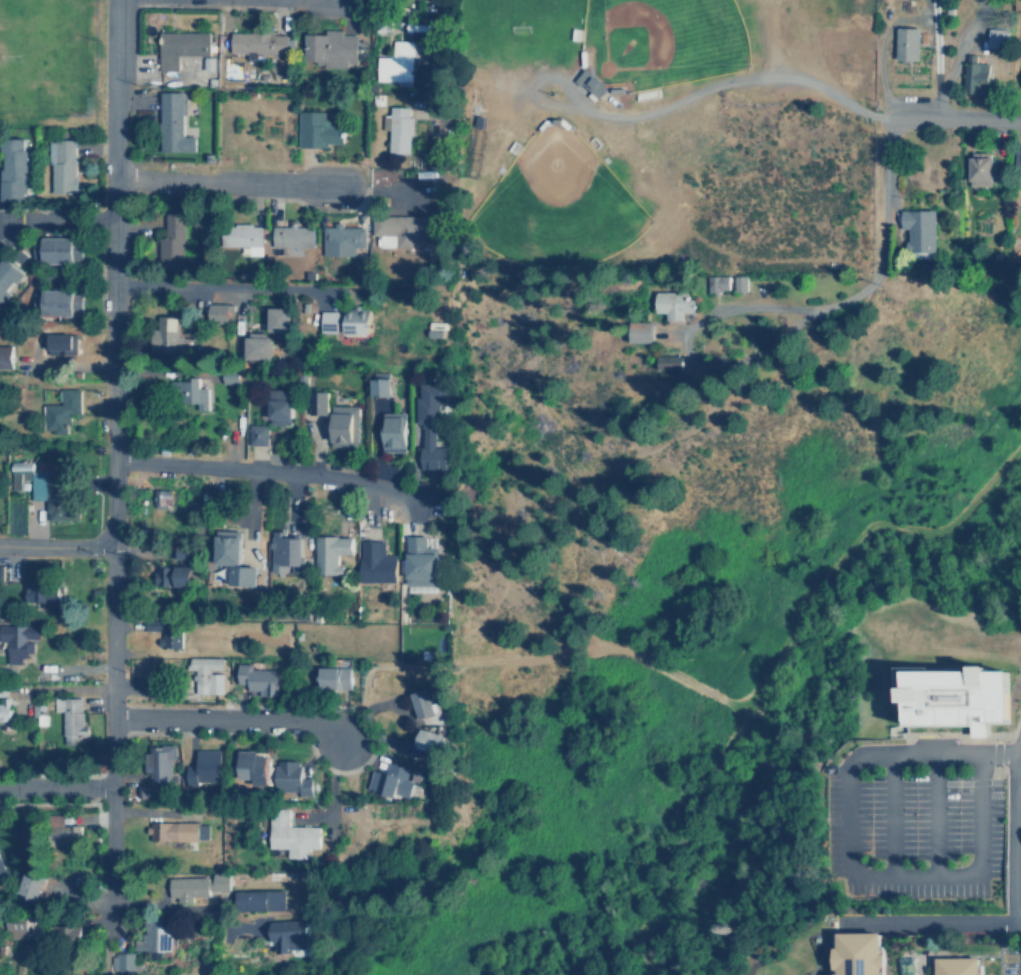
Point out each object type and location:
park: (805, 4)
road: (180, 5)
park: (518, 28)
building: (997, 37)
park: (658, 40)
building: (906, 43)
building: (259, 44)
building: (178, 47)
building: (331, 48)
park: (47, 57)
building: (396, 63)
road: (450, 73)
building: (976, 77)
road: (694, 91)
road: (950, 118)
building: (171, 123)
building: (318, 129)
building: (398, 129)
building: (1016, 160)
building: (62, 165)
building: (980, 169)
building: (14, 171)
road: (224, 182)
park: (553, 204)
road: (2, 219)
road: (59, 220)
road: (2, 221)
building: (402, 227)
building: (920, 229)
building: (292, 235)
road: (880, 235)
building: (243, 236)
building: (342, 239)
building: (173, 242)
building: (61, 250)
road: (115, 273)
building: (8, 276)
building: (718, 283)
building: (741, 283)
road: (225, 286)
building: (60, 302)
building: (674, 304)
building: (218, 313)
building: (280, 319)
building: (346, 322)
building: (436, 328)
building: (640, 332)
building: (167, 336)
building: (61, 344)
building: (260, 347)
road: (743, 357)
building: (672, 363)
building: (380, 387)
building: (189, 393)
building: (318, 403)
building: (280, 407)
building: (62, 410)
building: (431, 424)
building: (345, 426)
building: (394, 432)
building: (258, 434)
road: (250, 468)
building: (44, 490)
road: (57, 545)
building: (285, 552)
building: (331, 553)
building: (234, 558)
building: (376, 562)
building: (421, 562)
building: (174, 576)
building: (37, 593)
building: (165, 632)
building: (18, 640)
road: (538, 656)
road: (766, 670)
building: (208, 674)
building: (335, 677)
building: (258, 679)
building: (949, 695)
building: (423, 703)
building: (71, 719)
road: (230, 720)
road: (770, 721)
road: (113, 731)
road: (969, 734)
building: (430, 744)
building: (160, 762)
building: (253, 766)
building: (205, 767)
building: (293, 777)
building: (392, 780)
road: (53, 791)
road: (333, 794)
road: (888, 815)
road: (934, 815)
road: (776, 817)
parking lot: (916, 823)
road: (1012, 828)
building: (62, 831)
building: (173, 831)
building: (291, 834)
road: (846, 861)
building: (2, 874)
building: (197, 885)
building: (32, 886)
building: (261, 899)
road: (186, 907)
road: (932, 922)
building: (22, 928)
building: (290, 935)
building: (154, 936)
road: (820, 945)
road: (998, 949)
road: (1019, 949)
building: (860, 952)
building: (124, 961)
building: (905, 965)
building: (957, 965)

